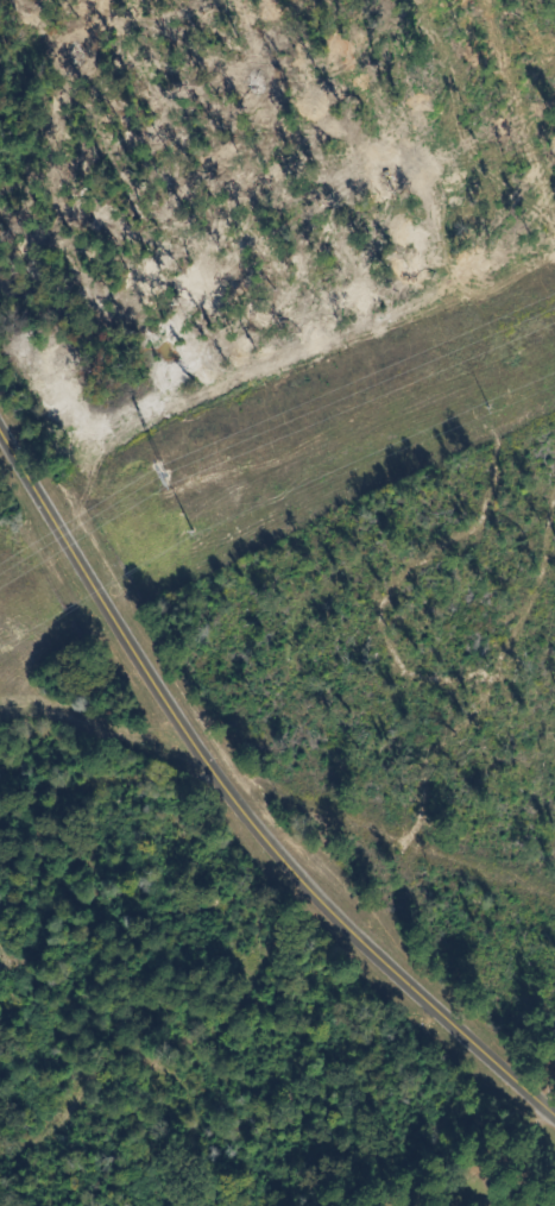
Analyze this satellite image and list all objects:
power tower: (164, 478)
road: (238, 814)
road: (436, 1168)

